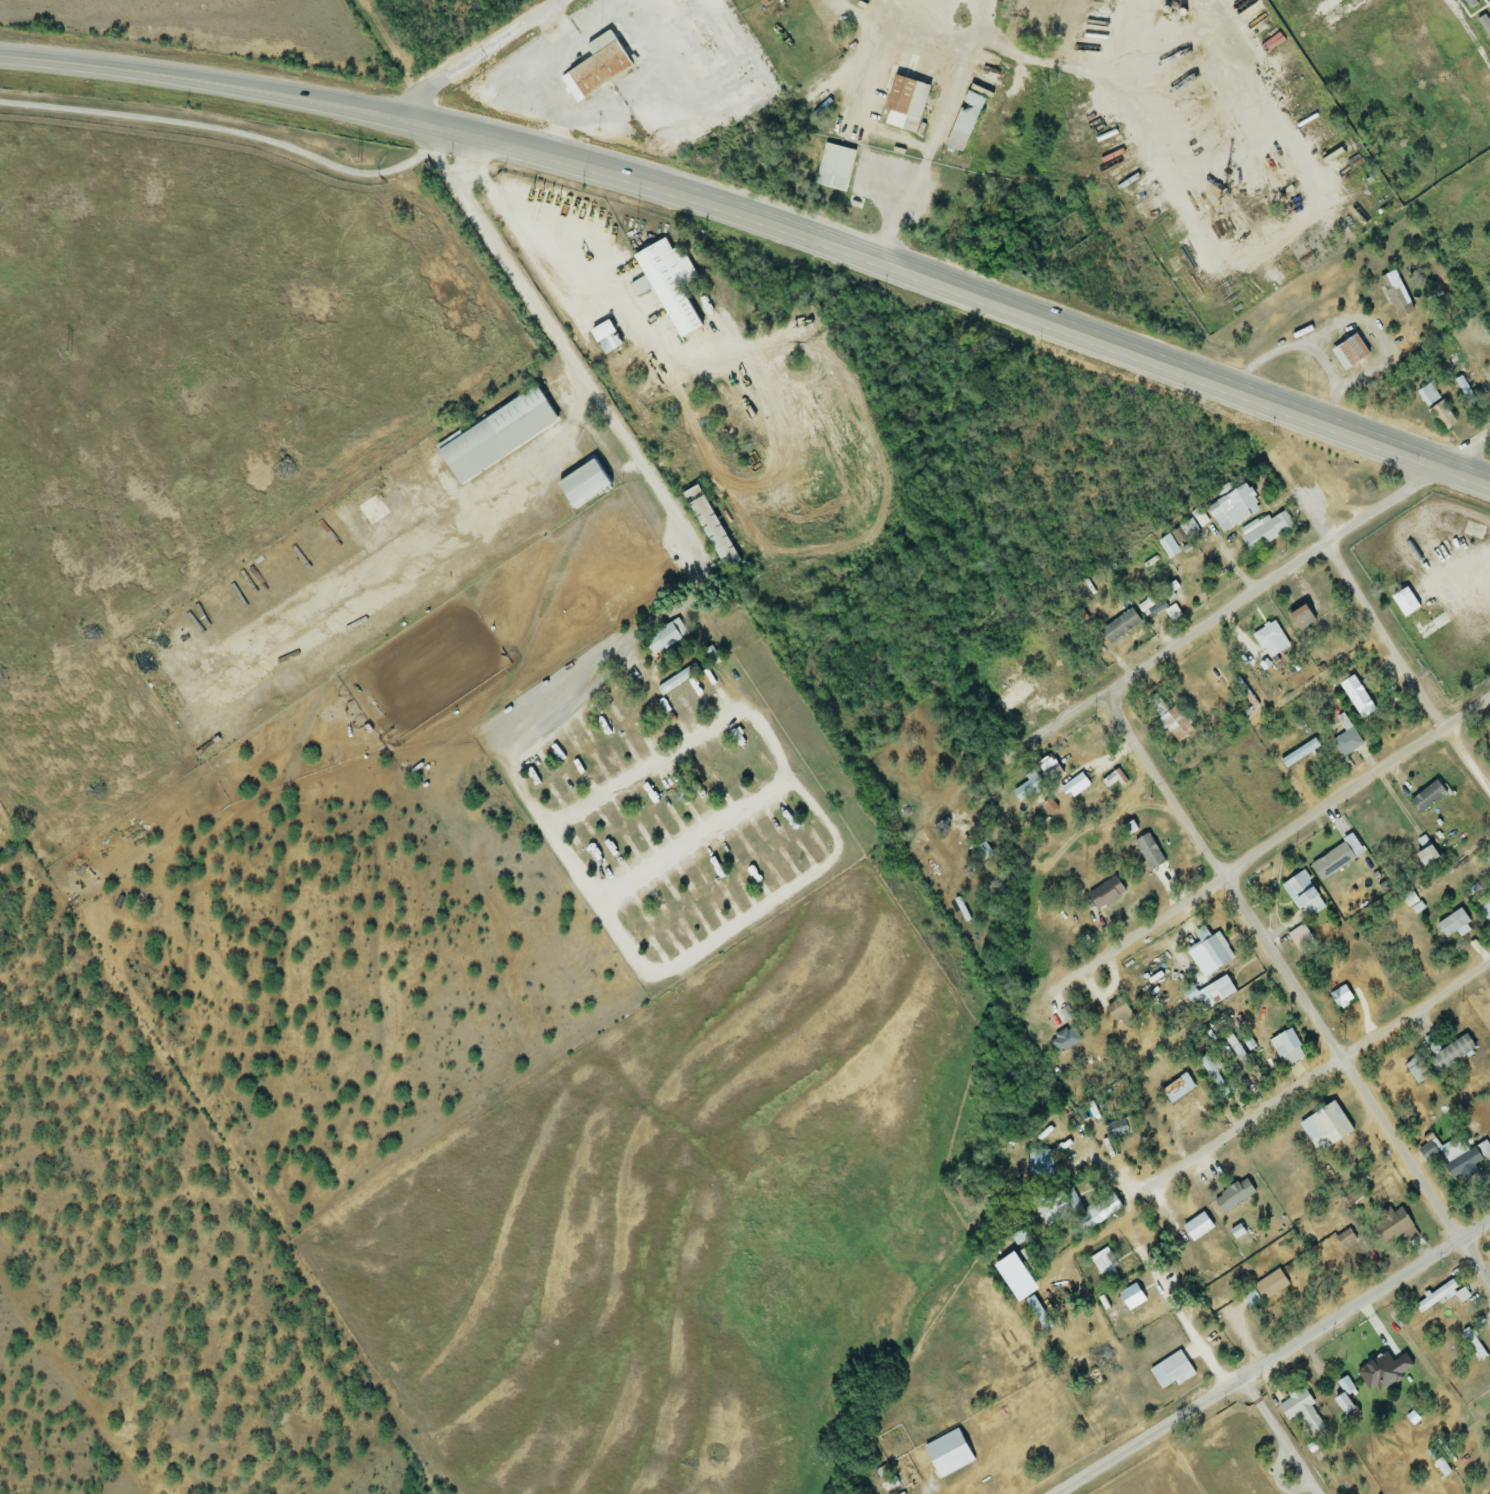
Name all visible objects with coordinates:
road: (388, 49)
road: (482, 56)
building: (596, 65)
road: (1077, 69)
building: (902, 104)
road: (943, 119)
road: (223, 130)
power tower: (357, 159)
building: (833, 162)
road: (1458, 197)
road: (758, 218)
building: (667, 284)
road: (559, 348)
building: (1350, 352)
power tower: (67, 353)
building: (1426, 395)
building: (493, 436)
building: (1232, 509)
building: (707, 526)
building: (1265, 533)
road: (1278, 573)
building: (659, 641)
road: (1406, 671)
building: (1020, 692)
road: (1042, 734)
building: (1346, 744)
road: (696, 843)
road: (1235, 863)
building: (1105, 894)
building: (1301, 895)
building: (1483, 906)
building: (1452, 925)
building: (1208, 953)
road: (697, 957)
road: (1300, 982)
building: (1214, 993)
building: (1338, 997)
building: (1285, 1049)
building: (1443, 1056)
road: (1303, 1084)
building: (1174, 1089)
building: (1475, 1116)
building: (1323, 1126)
building: (1039, 1163)
building: (1102, 1265)
building: (1436, 1295)
road: (1168, 1296)
building: (1250, 1300)
road: (1270, 1358)
building: (1489, 1388)
building: (1341, 1403)
building: (1300, 1411)
road: (1278, 1435)
building: (945, 1454)

